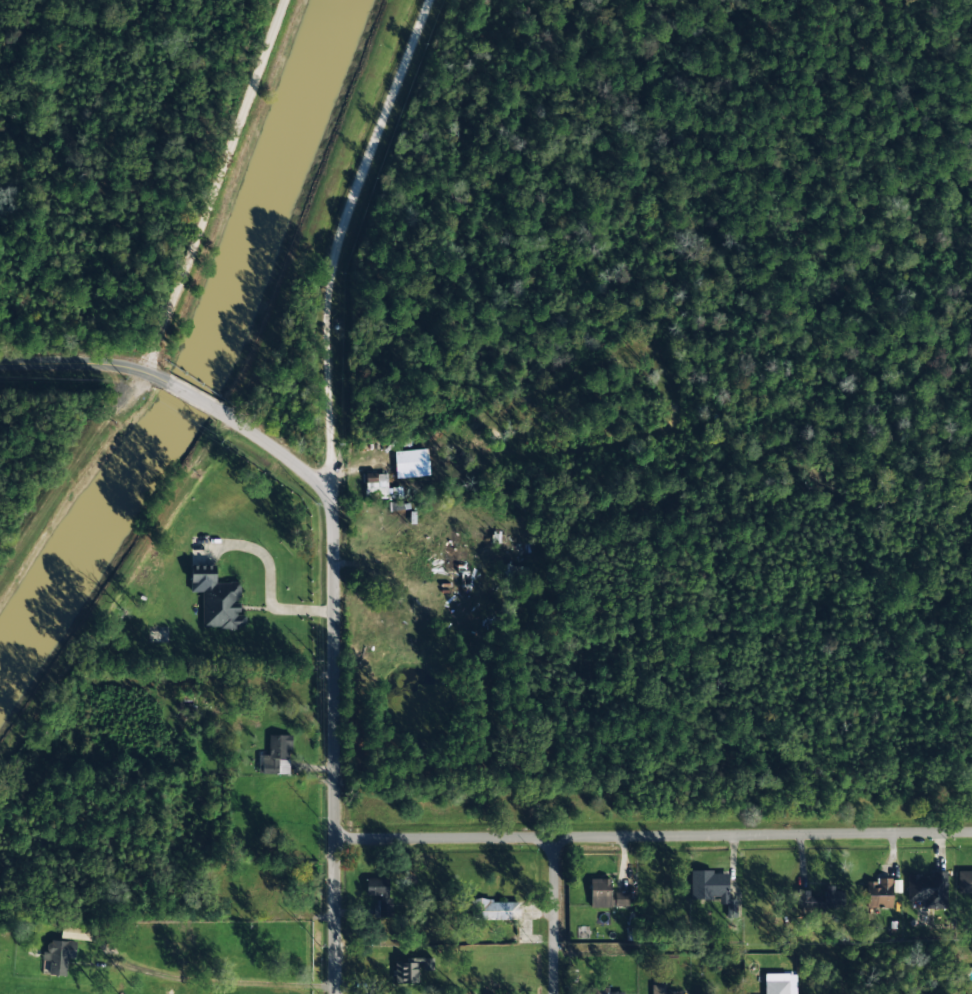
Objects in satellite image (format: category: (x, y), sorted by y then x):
road: (77, 361)
road: (190, 395)
road: (274, 450)
road: (321, 488)
building: (379, 488)
building: (463, 586)
building: (217, 599)
building: (276, 756)
road: (653, 834)
building: (964, 882)
building: (709, 886)
building: (927, 890)
building: (878, 893)
building: (605, 895)
building: (379, 896)
building: (821, 899)
building: (496, 910)
road: (553, 914)
building: (59, 956)
building: (411, 970)
building: (778, 984)
building: (968, 989)
building: (620, 993)
building: (669, 993)

